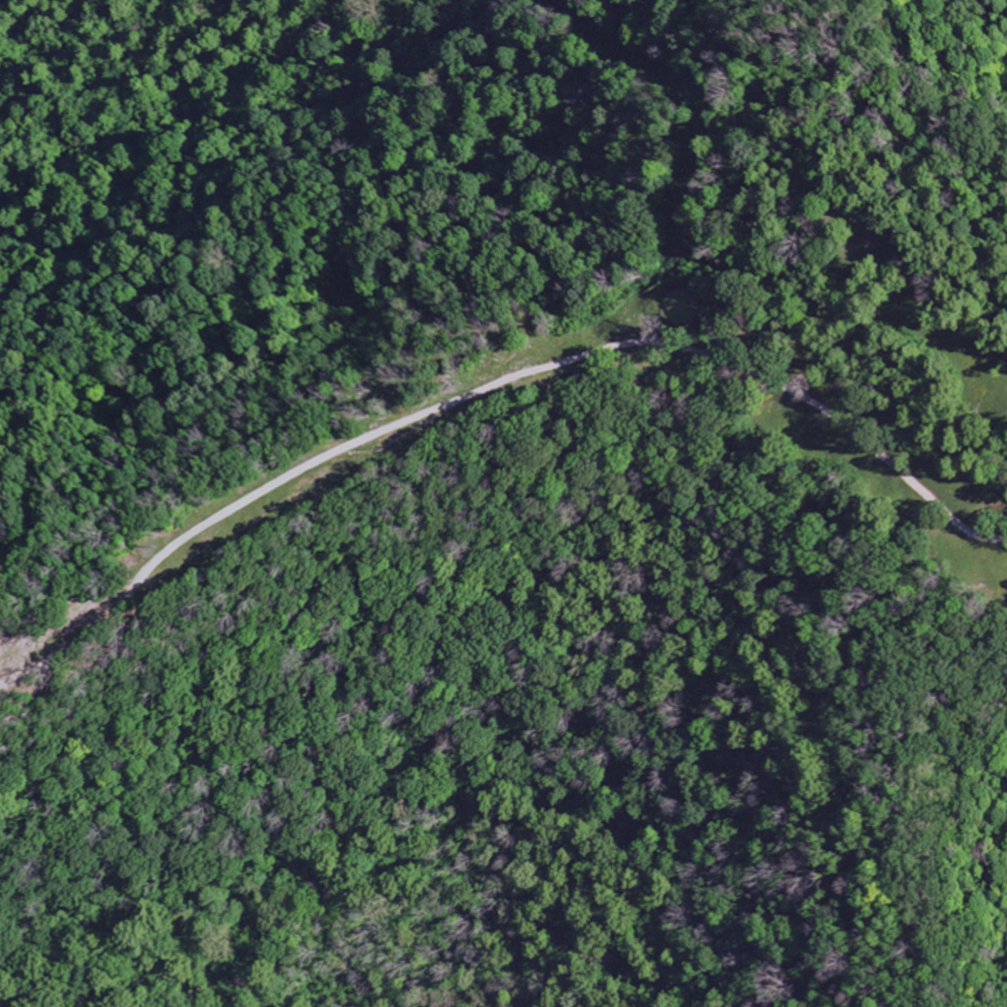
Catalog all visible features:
road: (494, 733)

